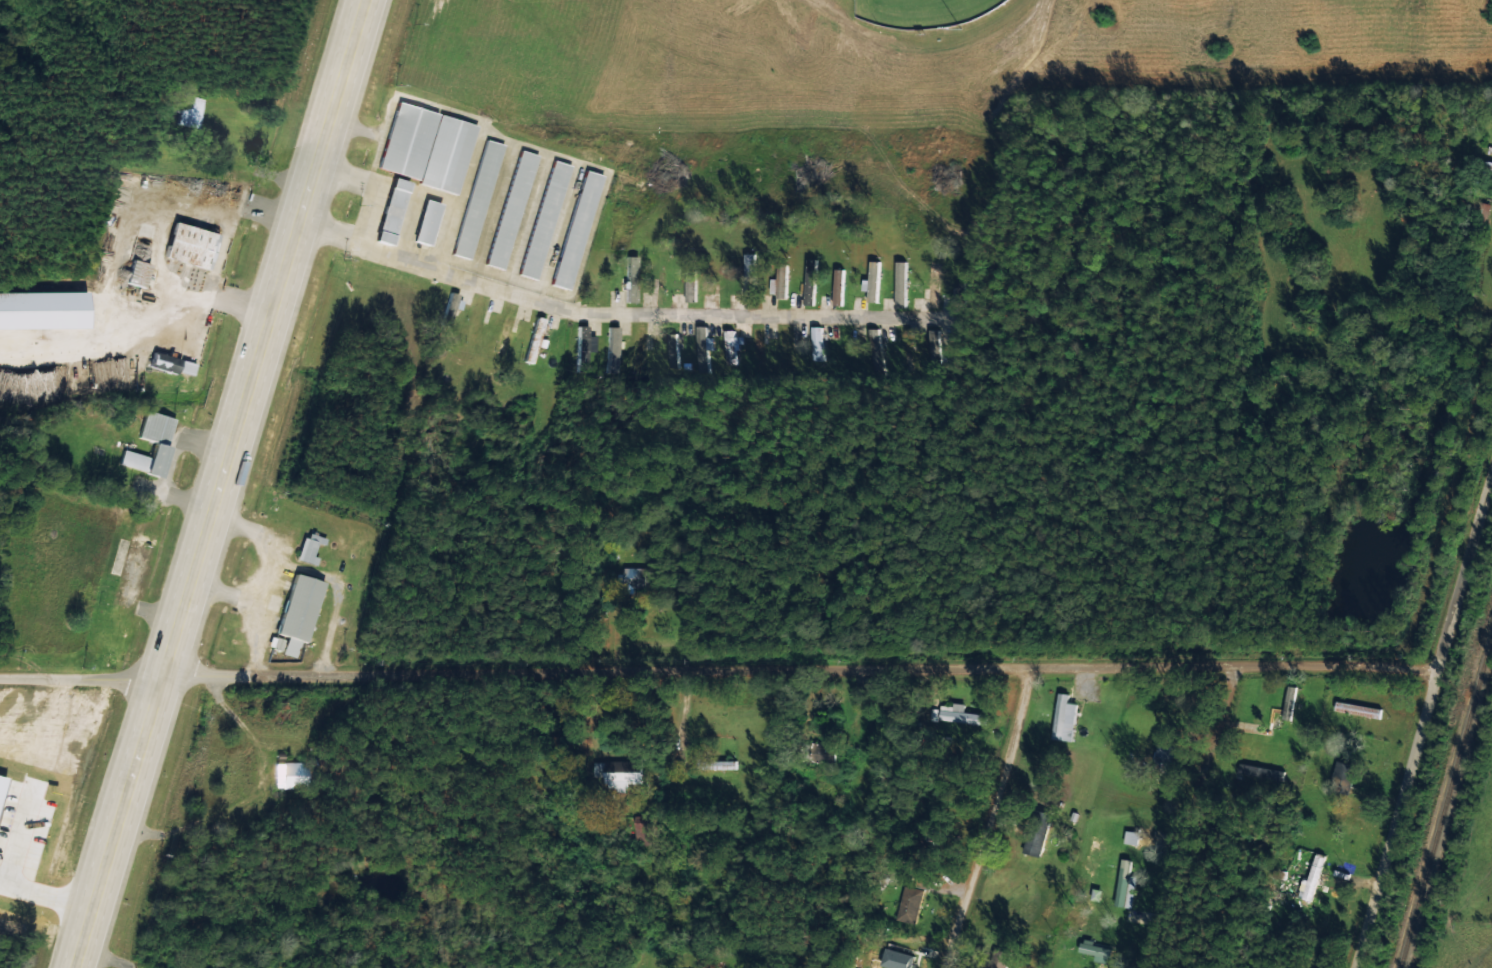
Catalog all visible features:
building: (192, 110)
building: (424, 146)
building: (474, 198)
building: (508, 208)
building: (388, 210)
building: (541, 218)
building: (424, 221)
building: (573, 228)
building: (186, 244)
building: (134, 272)
building: (628, 278)
building: (780, 279)
building: (809, 281)
building: (871, 281)
building: (900, 283)
building: (930, 284)
building: (837, 285)
building: (689, 287)
building: (40, 309)
building: (449, 309)
road: (614, 316)
building: (531, 338)
building: (814, 342)
building: (931, 344)
building: (729, 346)
building: (582, 347)
building: (701, 347)
building: (756, 347)
building: (610, 349)
building: (670, 349)
building: (784, 350)
building: (871, 350)
building: (901, 350)
building: (161, 361)
road: (247, 389)
building: (157, 444)
building: (304, 551)
building: (630, 576)
building: (292, 614)
road: (797, 670)
road: (80, 678)
building: (1288, 703)
building: (1356, 709)
building: (958, 714)
building: (1062, 717)
road: (1421, 717)
building: (1162, 753)
building: (1260, 771)
building: (287, 774)
building: (620, 774)
building: (1342, 775)
railway: (1445, 799)
road: (983, 817)
road: (1191, 817)
building: (1130, 837)
road: (102, 873)
building: (1124, 885)
building: (909, 901)
building: (1095, 950)
building: (996, 960)
building: (904, 963)
building: (1107, 967)

